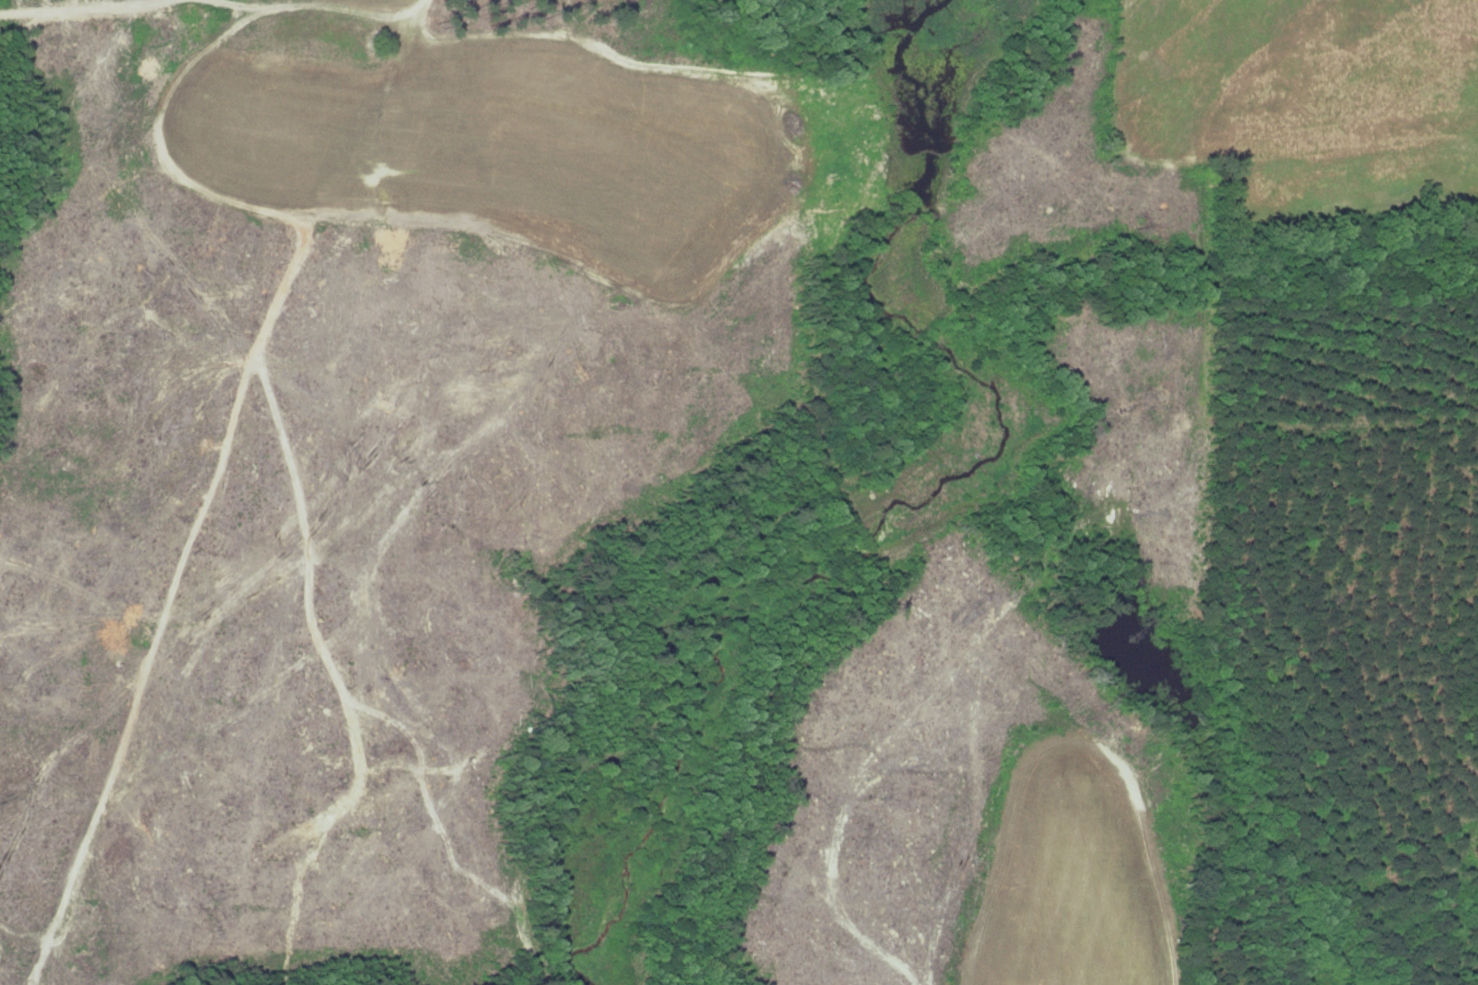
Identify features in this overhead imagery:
building: (114, 654)

